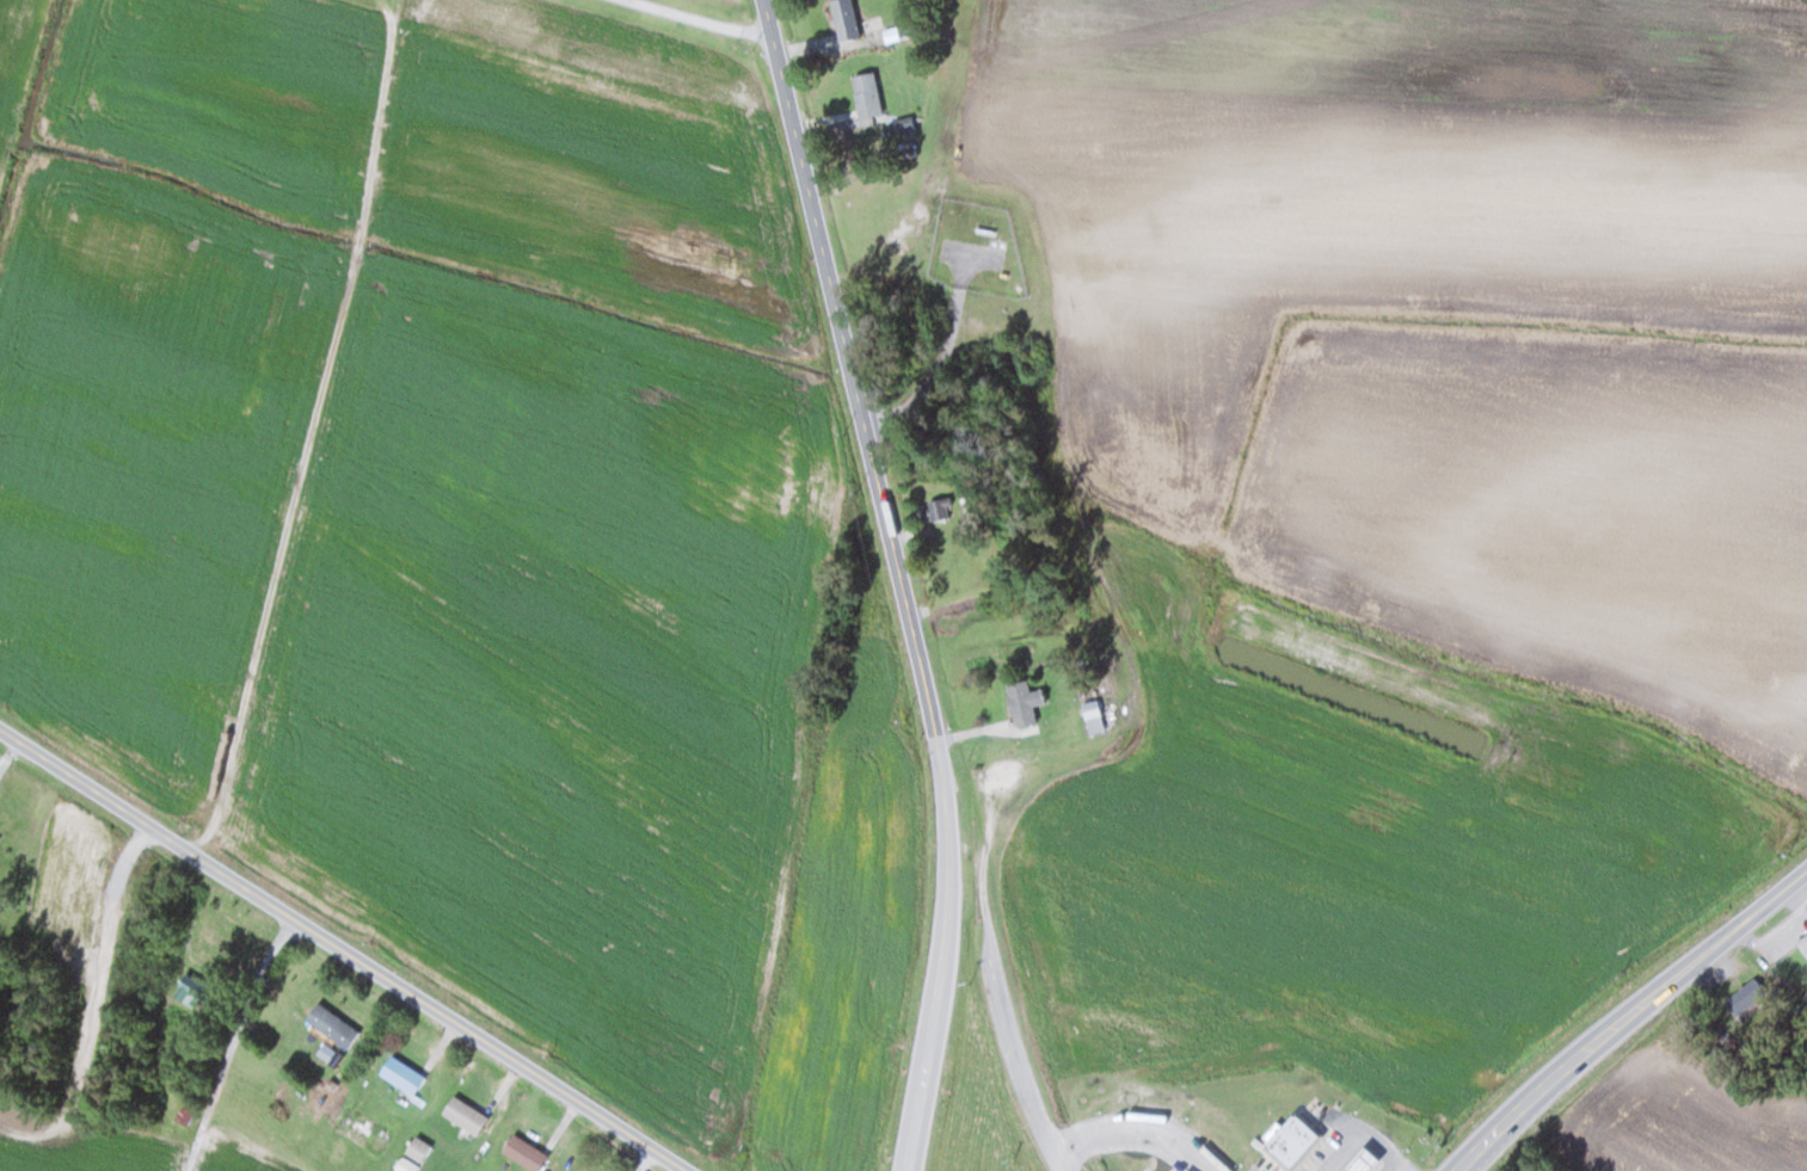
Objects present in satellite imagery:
building: (843, 19)
building: (865, 94)
building: (938, 509)
road: (903, 580)
building: (1021, 702)
building: (1092, 713)
building: (1802, 942)
road: (344, 949)
building: (1743, 996)
road: (1627, 1012)
building: (330, 1024)
road: (1021, 1066)
building: (399, 1073)
building: (462, 1114)
building: (358, 1126)
road: (1137, 1127)
road: (1360, 1134)
building: (1292, 1138)
building: (379, 1139)
building: (416, 1147)
building: (522, 1152)
building: (1364, 1160)
road: (1396, 1169)

